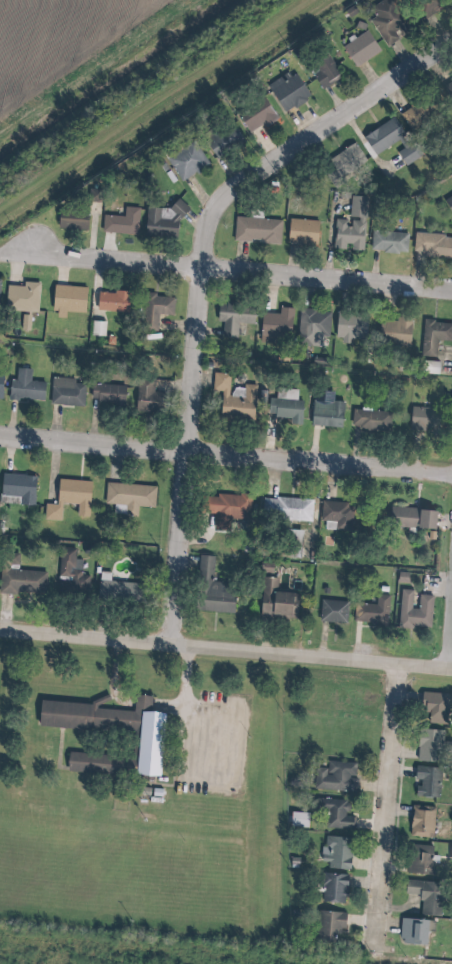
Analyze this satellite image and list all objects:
building: (427, 6)
building: (385, 20)
building: (359, 48)
building: (324, 70)
building: (448, 85)
building: (287, 91)
railway: (152, 102)
building: (415, 113)
building: (255, 114)
building: (382, 135)
building: (221, 138)
building: (408, 153)
building: (185, 161)
building: (344, 161)
building: (448, 202)
building: (70, 219)
building: (161, 220)
building: (120, 221)
building: (350, 226)
building: (255, 229)
building: (301, 231)
building: (388, 241)
building: (432, 244)
road: (244, 267)
road: (200, 279)
building: (21, 295)
building: (67, 299)
building: (110, 300)
building: (154, 309)
building: (232, 317)
building: (274, 324)
building: (311, 326)
building: (349, 326)
building: (96, 327)
building: (433, 335)
building: (427, 366)
building: (0, 381)
building: (24, 386)
building: (65, 391)
building: (106, 392)
building: (144, 395)
building: (233, 398)
building: (285, 406)
building: (325, 412)
building: (422, 417)
building: (369, 419)
road: (225, 451)
building: (17, 487)
building: (128, 496)
building: (68, 498)
building: (285, 507)
building: (225, 508)
building: (336, 514)
building: (411, 517)
building: (214, 591)
building: (123, 594)
building: (278, 602)
building: (416, 611)
building: (335, 612)
building: (375, 613)
road: (226, 647)
road: (451, 655)
building: (436, 708)
road: (194, 715)
building: (163, 739)
building: (431, 746)
building: (340, 778)
building: (428, 783)
road: (397, 803)
building: (338, 814)
building: (300, 820)
building: (423, 822)
building: (338, 853)
building: (421, 859)
building: (336, 889)
building: (428, 897)
building: (333, 926)
building: (414, 932)

